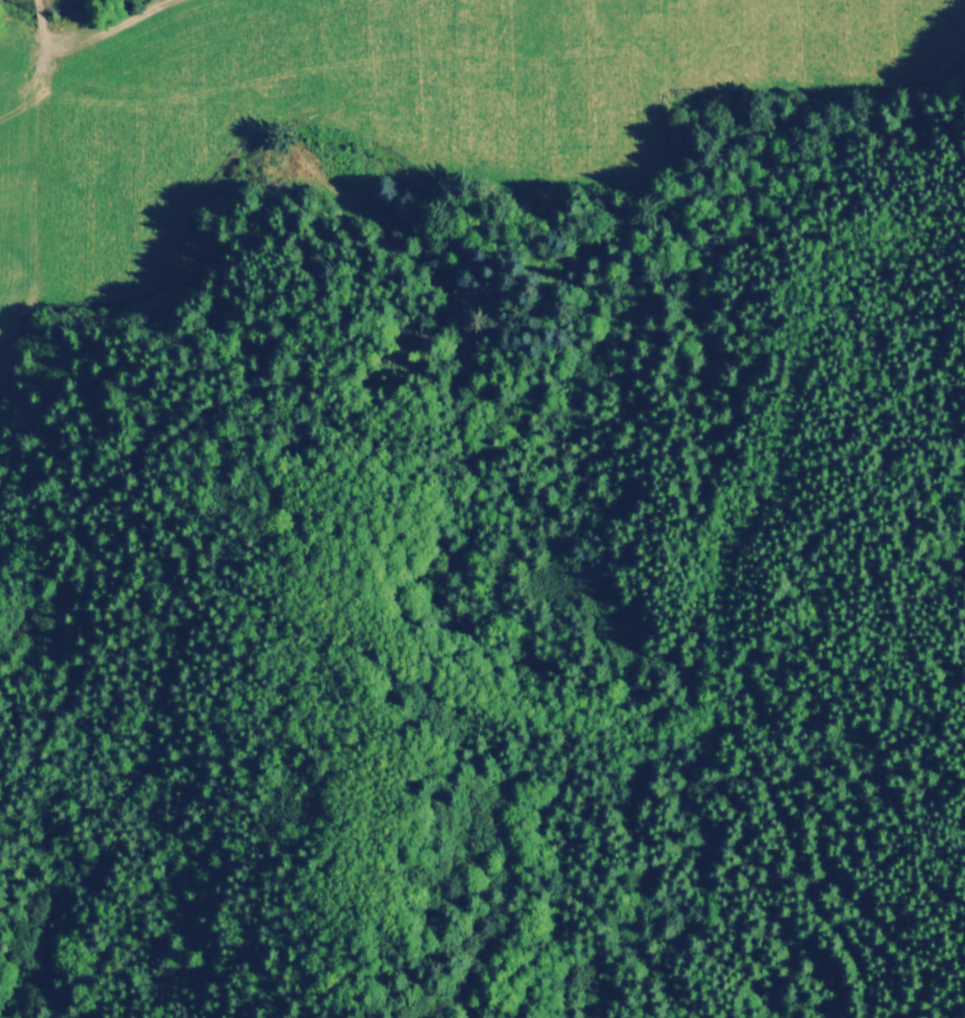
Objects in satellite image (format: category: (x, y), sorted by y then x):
road: (705, 639)

